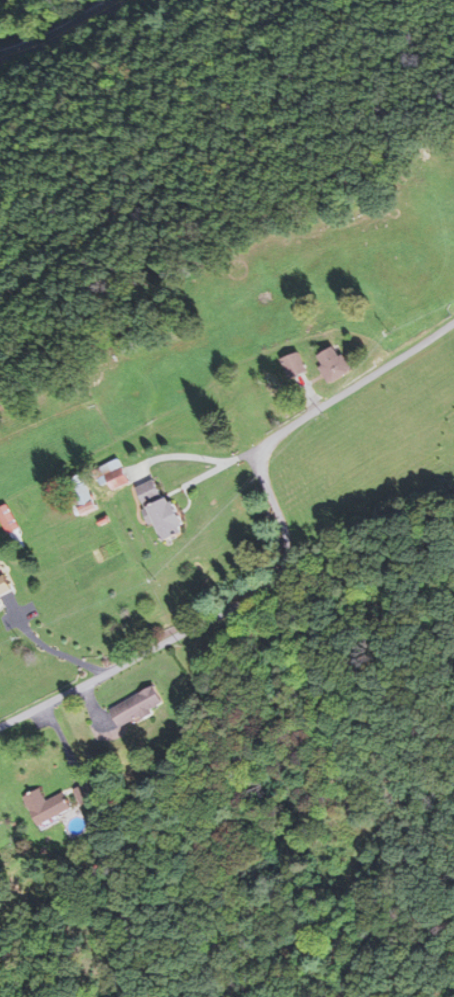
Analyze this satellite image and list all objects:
road: (63, 26)
building: (334, 362)
building: (295, 367)
building: (188, 392)
building: (114, 475)
building: (83, 499)
building: (162, 511)
building: (8, 518)
road: (286, 556)
building: (4, 585)
building: (138, 706)
building: (85, 792)
building: (47, 806)
building: (77, 826)

